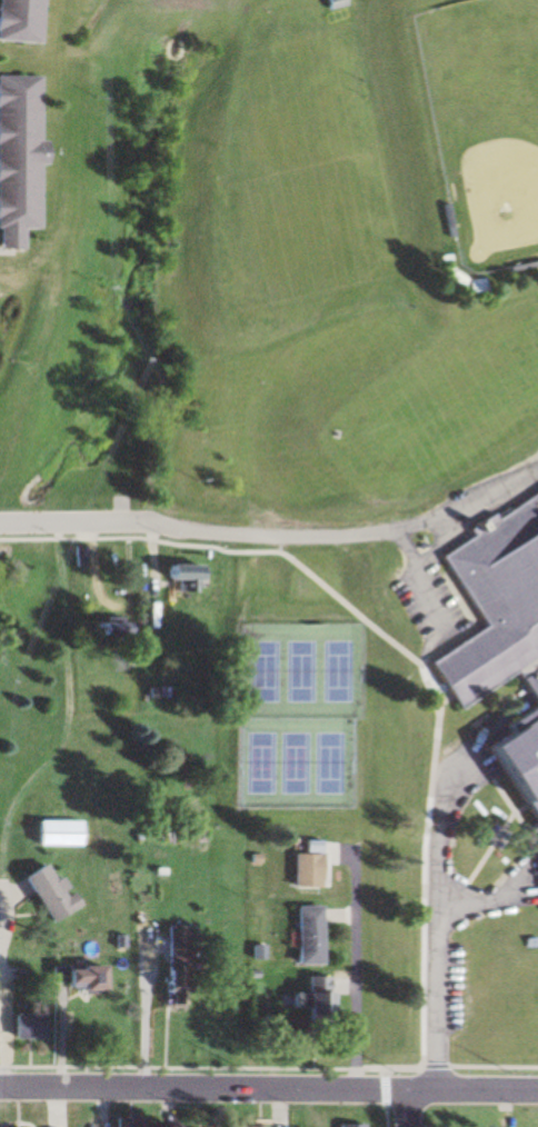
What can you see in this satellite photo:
building: (331, 4)
building: (18, 21)
building: (16, 156)
road: (21, 522)
road: (297, 540)
building: (79, 557)
road: (416, 578)
building: (182, 579)
parking lot: (425, 605)
building: (103, 627)
building: (501, 642)
park: (262, 672)
park: (299, 672)
park: (337, 672)
park: (258, 764)
park: (293, 764)
park: (329, 764)
building: (59, 832)
building: (303, 866)
building: (48, 892)
road: (435, 917)
building: (303, 935)
building: (173, 966)
building: (80, 977)
building: (307, 1003)
building: (26, 1026)
road: (269, 1068)
road: (269, 1087)
road: (410, 1107)
building: (127, 1121)
building: (345, 1125)
building: (246, 1126)

